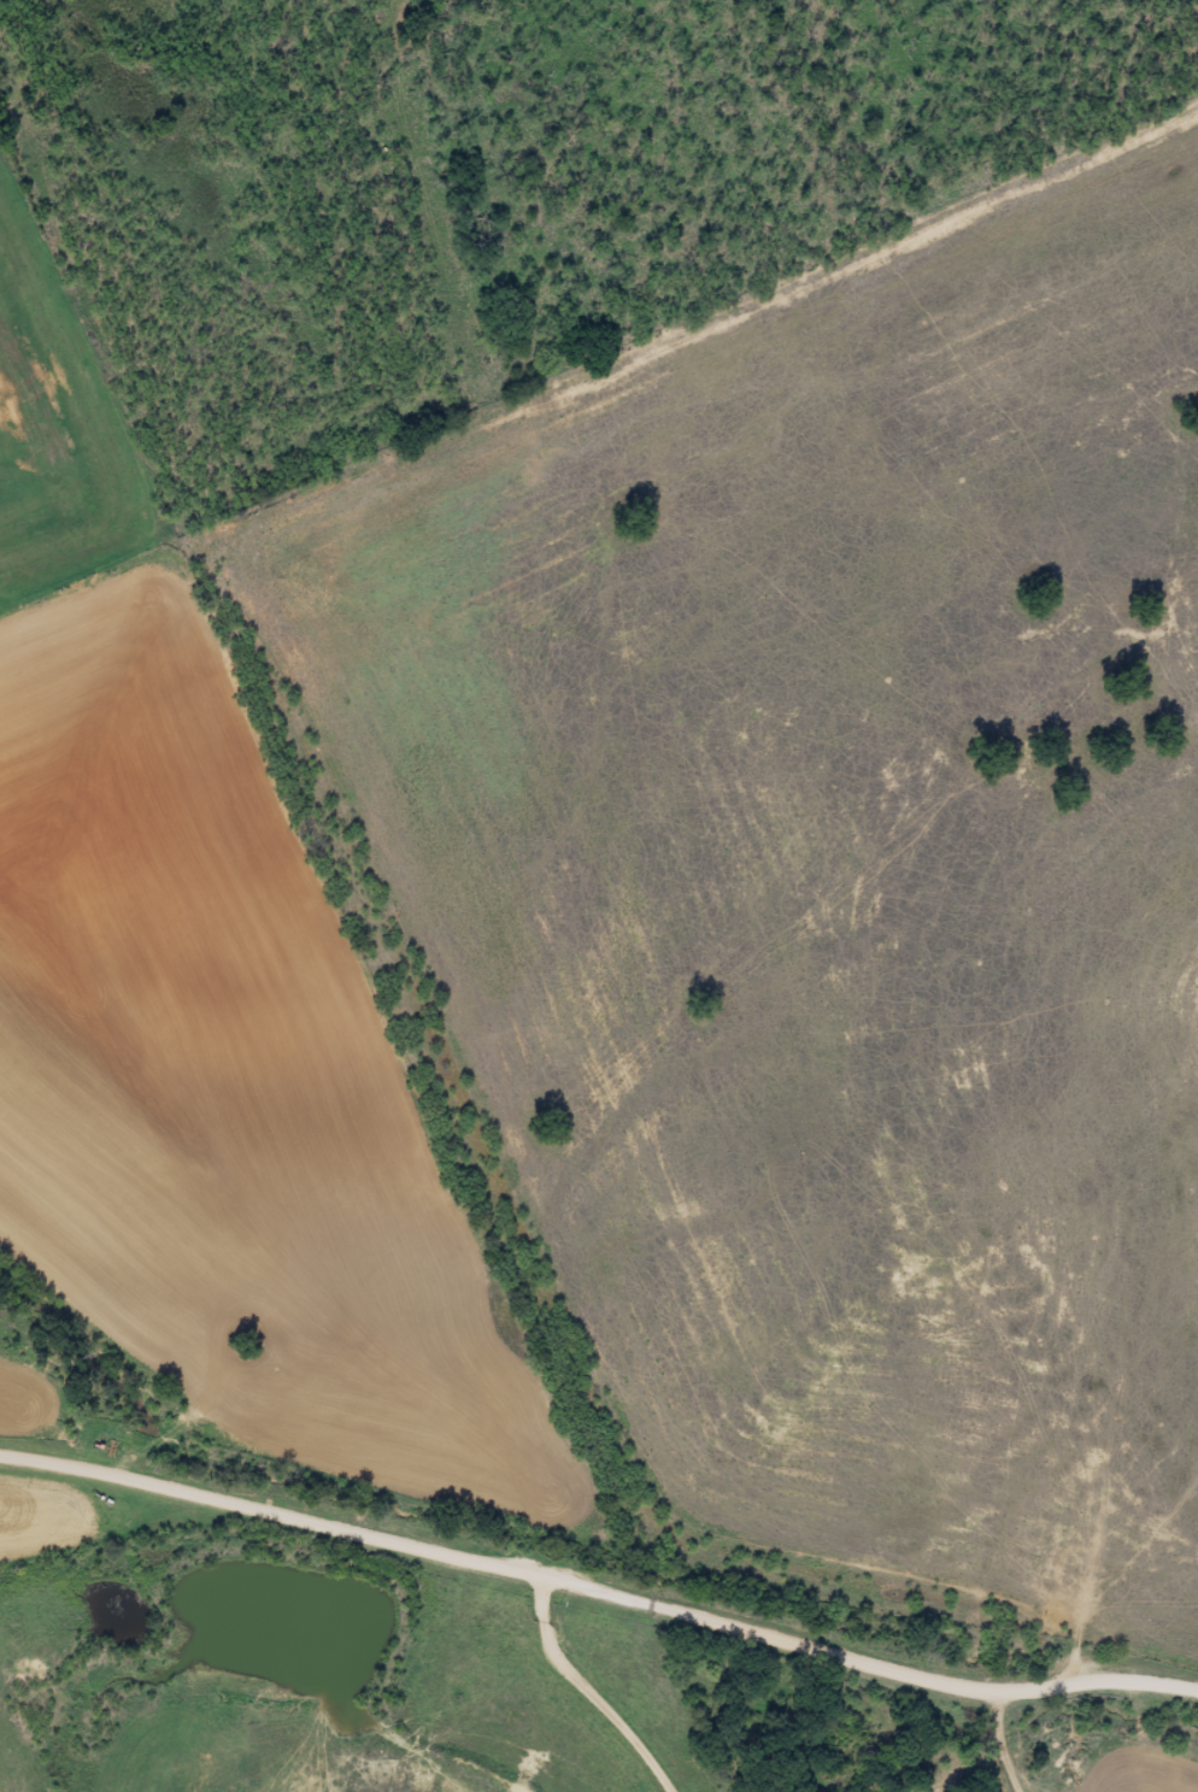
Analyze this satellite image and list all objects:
road: (169, 1487)
road: (763, 1693)
road: (1045, 1784)

